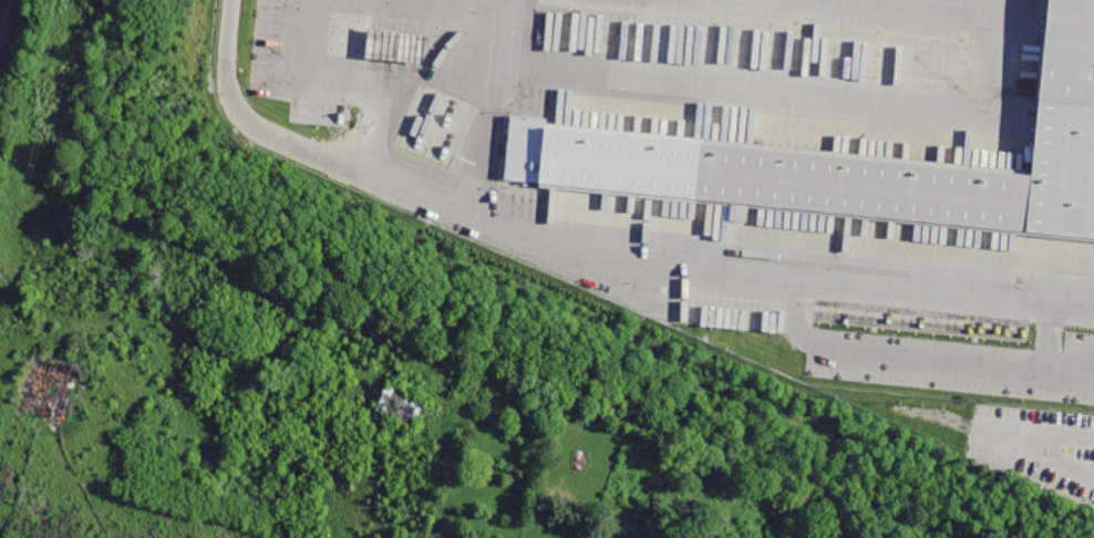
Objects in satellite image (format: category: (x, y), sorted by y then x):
railway: (1, 7)
building: (395, 44)
road: (752, 95)
road: (487, 103)
road: (376, 121)
building: (857, 163)
road: (597, 238)
road: (24, 298)
road: (1047, 329)
road: (914, 350)
building: (45, 390)
building: (399, 404)
road: (994, 428)
power tower: (18, 496)

